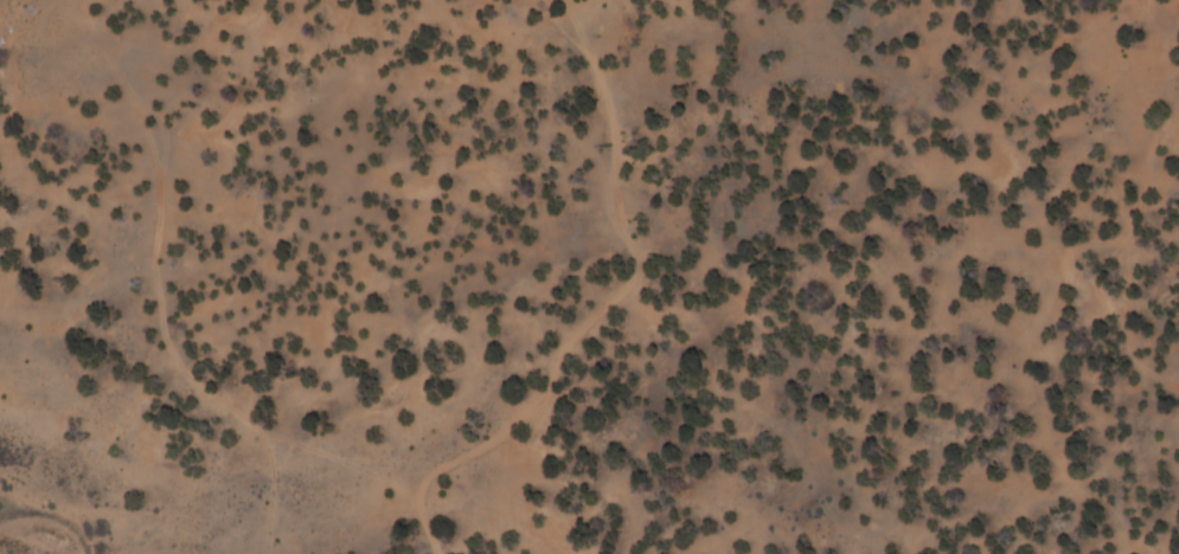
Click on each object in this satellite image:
road: (204, 264)
road: (623, 286)

